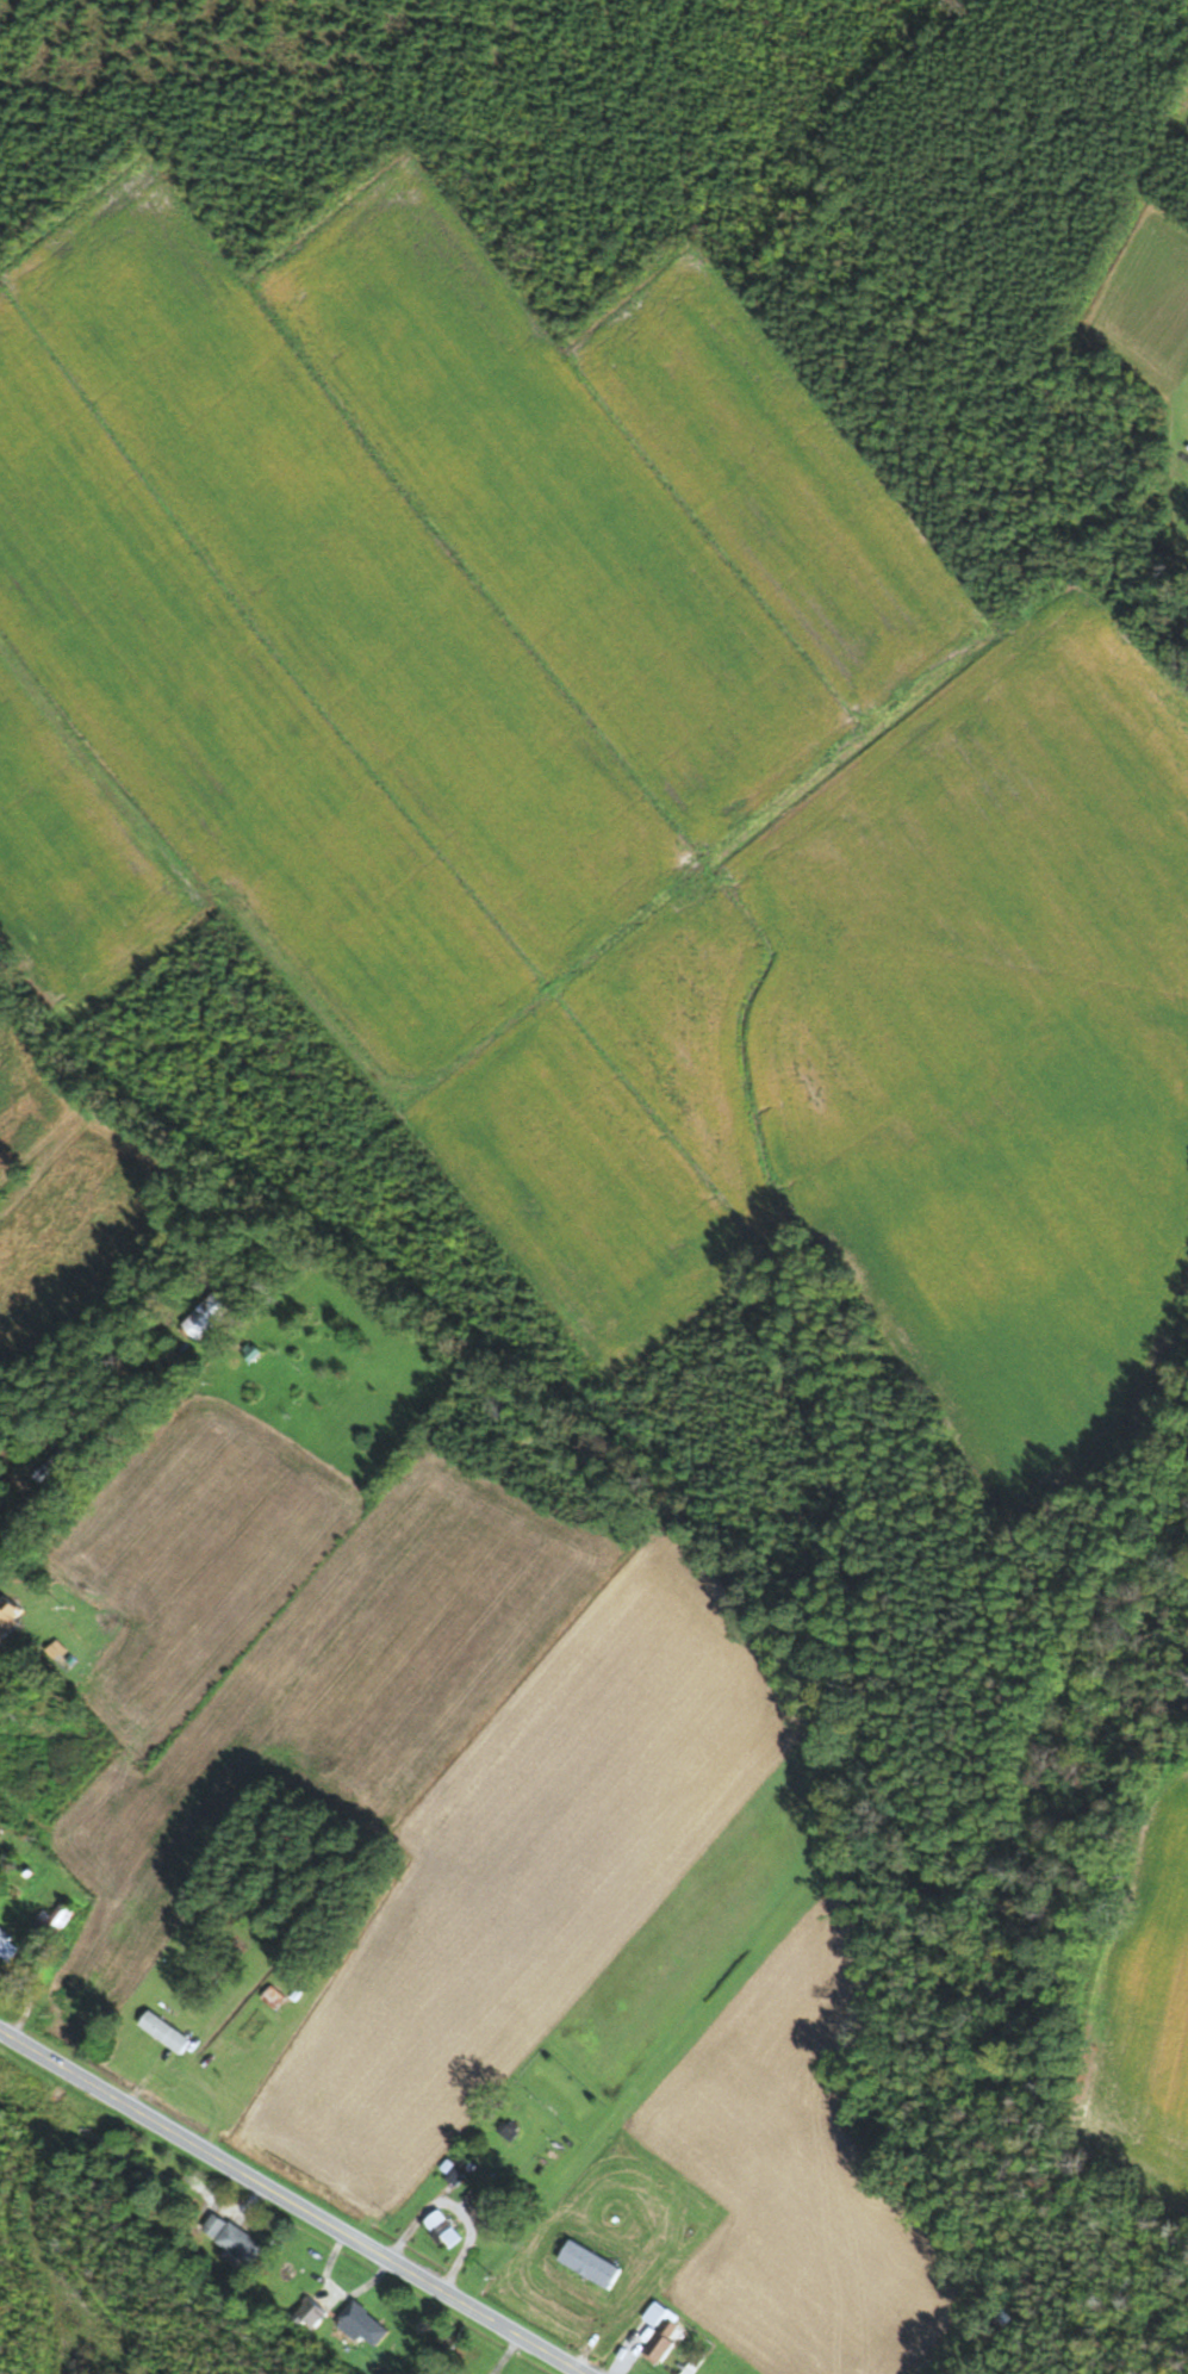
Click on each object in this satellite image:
building: (205, 1315)
building: (49, 1465)
building: (7, 1614)
building: (54, 1920)
building: (12, 1951)
building: (272, 1996)
building: (163, 2032)
road: (287, 2205)
building: (442, 2229)
building: (232, 2237)
building: (589, 2264)
building: (311, 2312)
building: (654, 2313)
building: (365, 2323)
building: (661, 2339)

